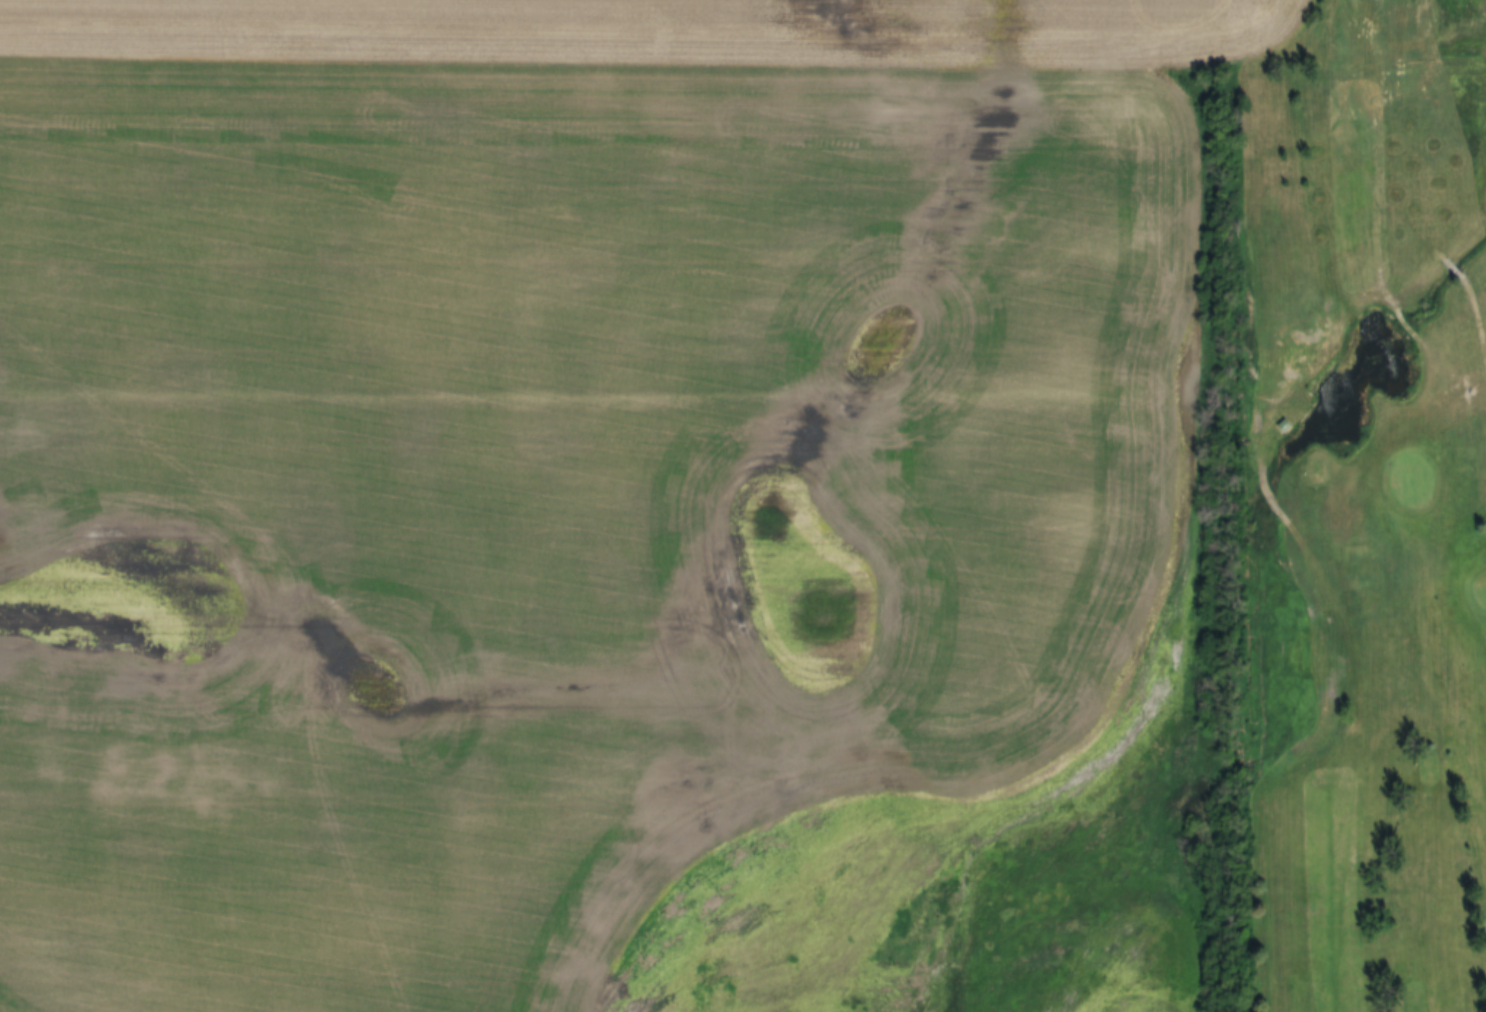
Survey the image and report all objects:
park: (1371, 509)

